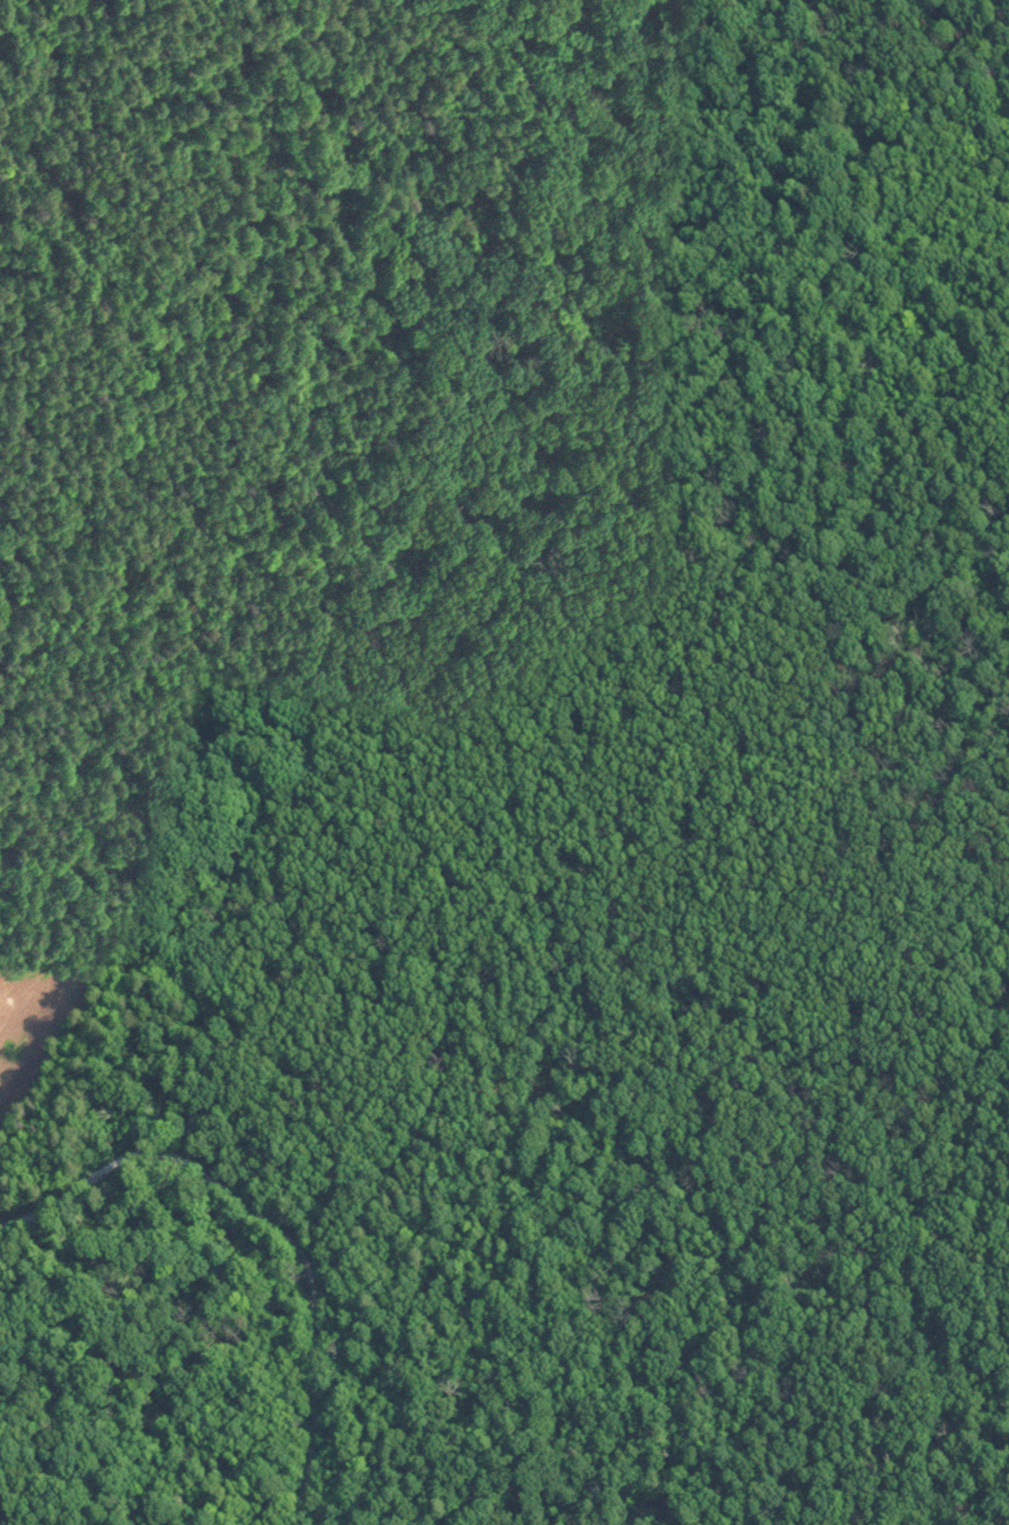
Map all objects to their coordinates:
road: (269, 1226)

